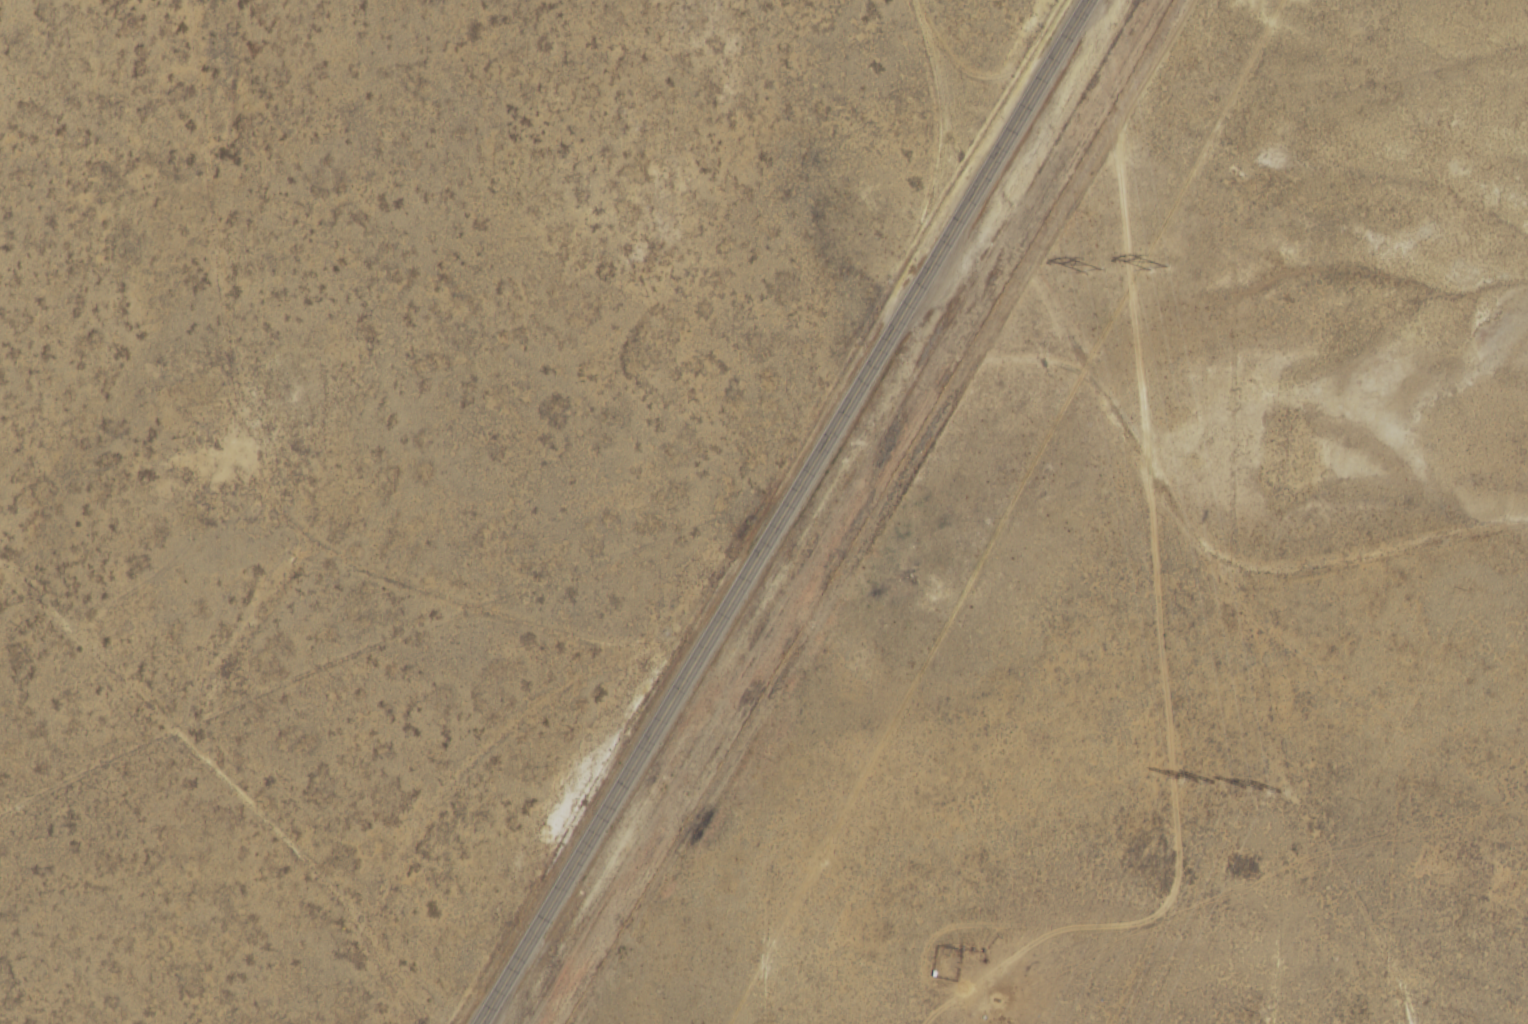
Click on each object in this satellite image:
power tower: (1155, 270)
power tower: (1088, 271)
road: (787, 511)
power tower: (1196, 779)
power tower: (1257, 789)

